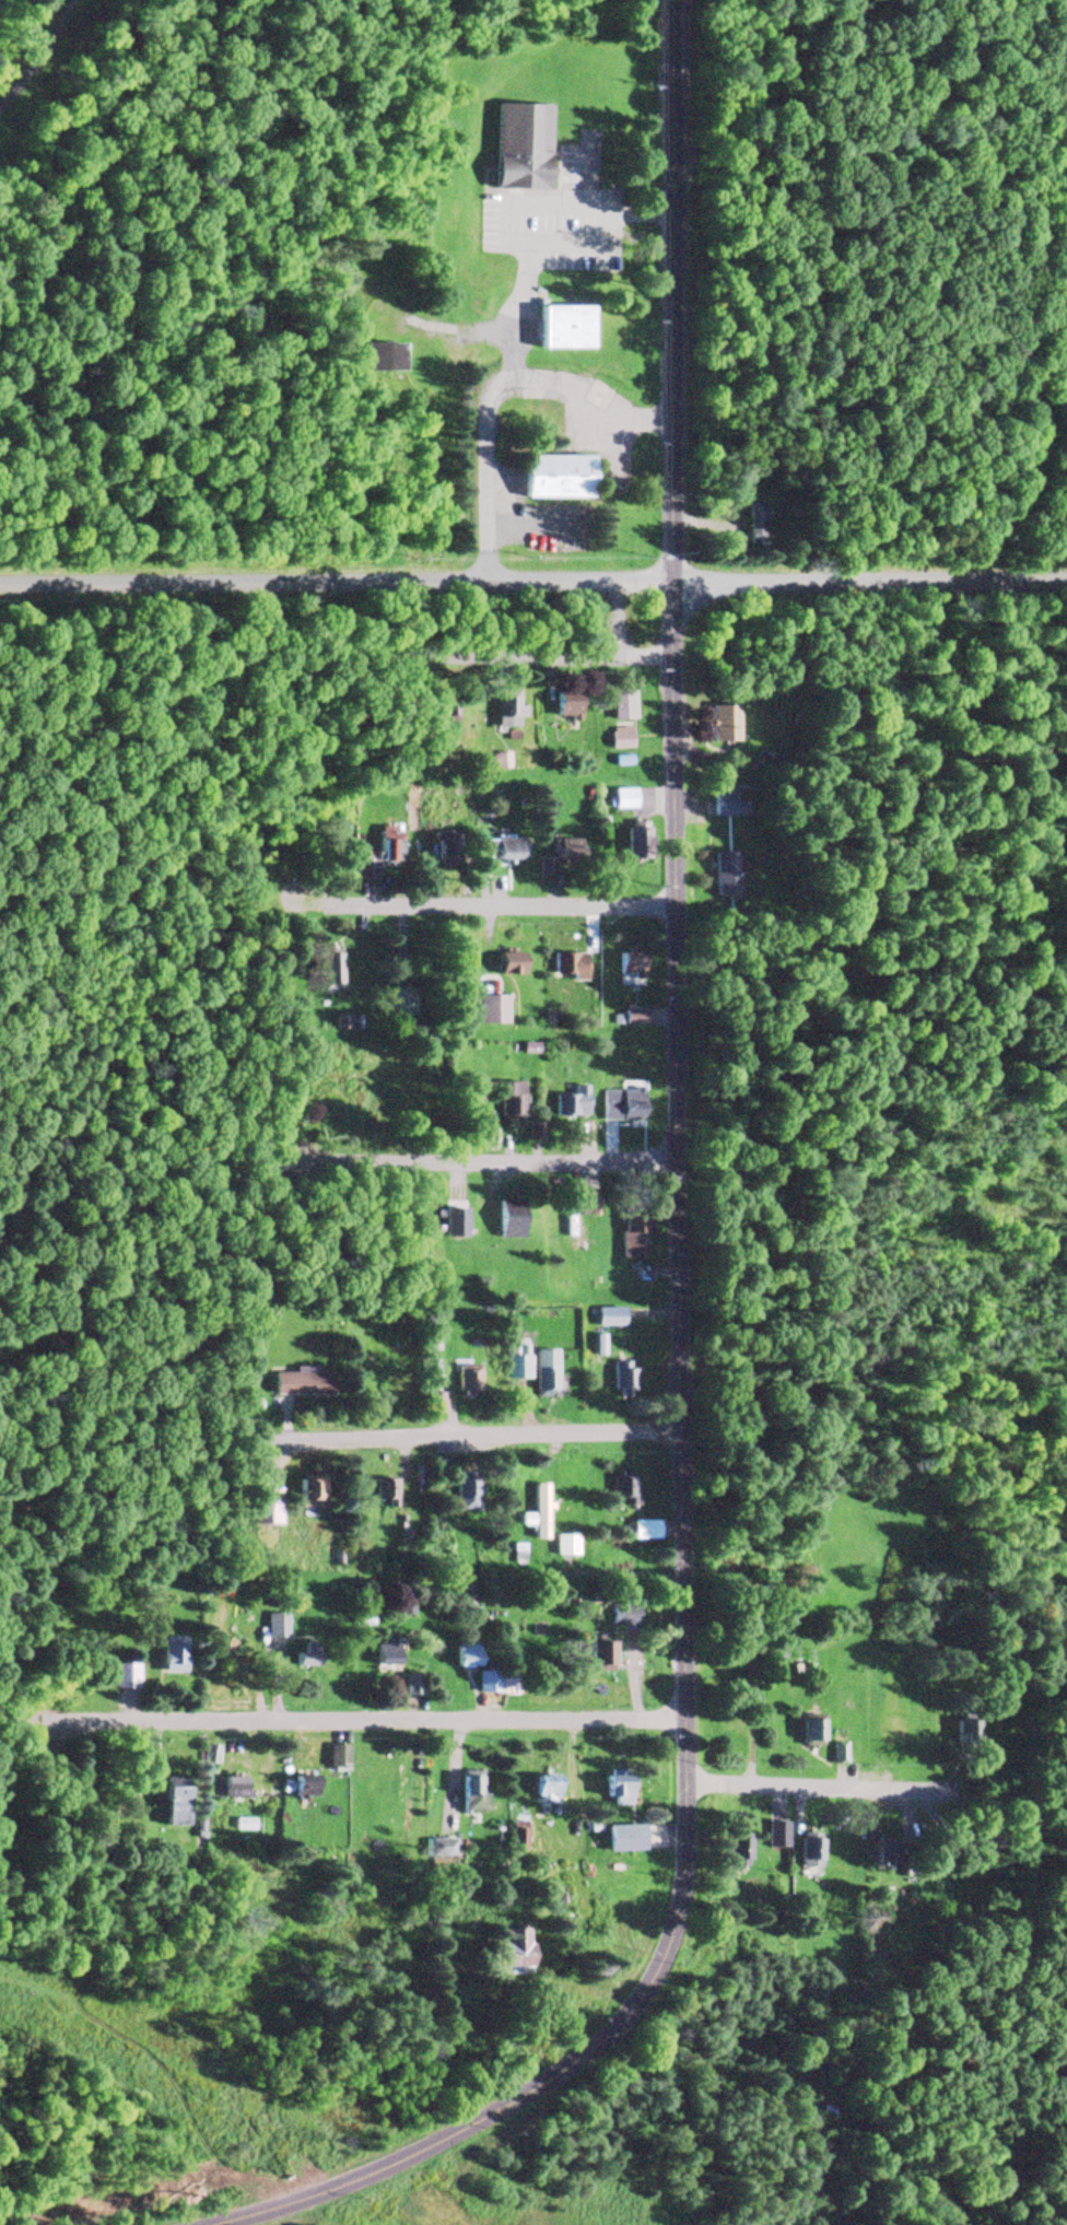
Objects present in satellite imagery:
road: (39, 57)
building: (517, 149)
building: (560, 329)
building: (377, 359)
building: (552, 479)
building: (750, 525)
road: (532, 581)
road: (529, 657)
building: (561, 706)
building: (619, 706)
building: (504, 710)
building: (718, 723)
building: (618, 738)
building: (619, 799)
building: (718, 803)
building: (443, 848)
building: (499, 850)
building: (378, 855)
building: (560, 857)
building: (719, 877)
road: (492, 911)
building: (504, 963)
building: (565, 965)
building: (625, 965)
building: (327, 970)
building: (394, 1003)
building: (484, 1010)
building: (630, 1018)
building: (504, 1098)
building: (567, 1103)
building: (618, 1105)
road: (517, 1168)
building: (504, 1219)
building: (570, 1228)
building: (631, 1229)
road: (666, 1278)
building: (605, 1316)
building: (515, 1368)
building: (540, 1372)
building: (620, 1378)
building: (457, 1379)
building: (297, 1382)
building: (427, 1403)
road: (474, 1439)
building: (379, 1490)
building: (621, 1490)
building: (303, 1494)
building: (460, 1495)
building: (535, 1514)
building: (641, 1531)
building: (561, 1546)
building: (146, 1593)
building: (401, 1608)
building: (618, 1615)
building: (230, 1654)
building: (379, 1654)
building: (168, 1655)
building: (594, 1656)
building: (301, 1658)
building: (460, 1658)
building: (122, 1676)
building: (483, 1683)
road: (336, 1723)
building: (964, 1731)
building: (807, 1732)
building: (889, 1732)
building: (335, 1758)
building: (230, 1788)
building: (297, 1788)
building: (610, 1788)
building: (540, 1789)
road: (871, 1792)
building: (469, 1794)
building: (169, 1803)
building: (620, 1838)
building: (773, 1842)
building: (976, 1843)
building: (442, 1850)
building: (730, 1852)
building: (805, 1853)
building: (881, 1853)
building: (504, 1949)

